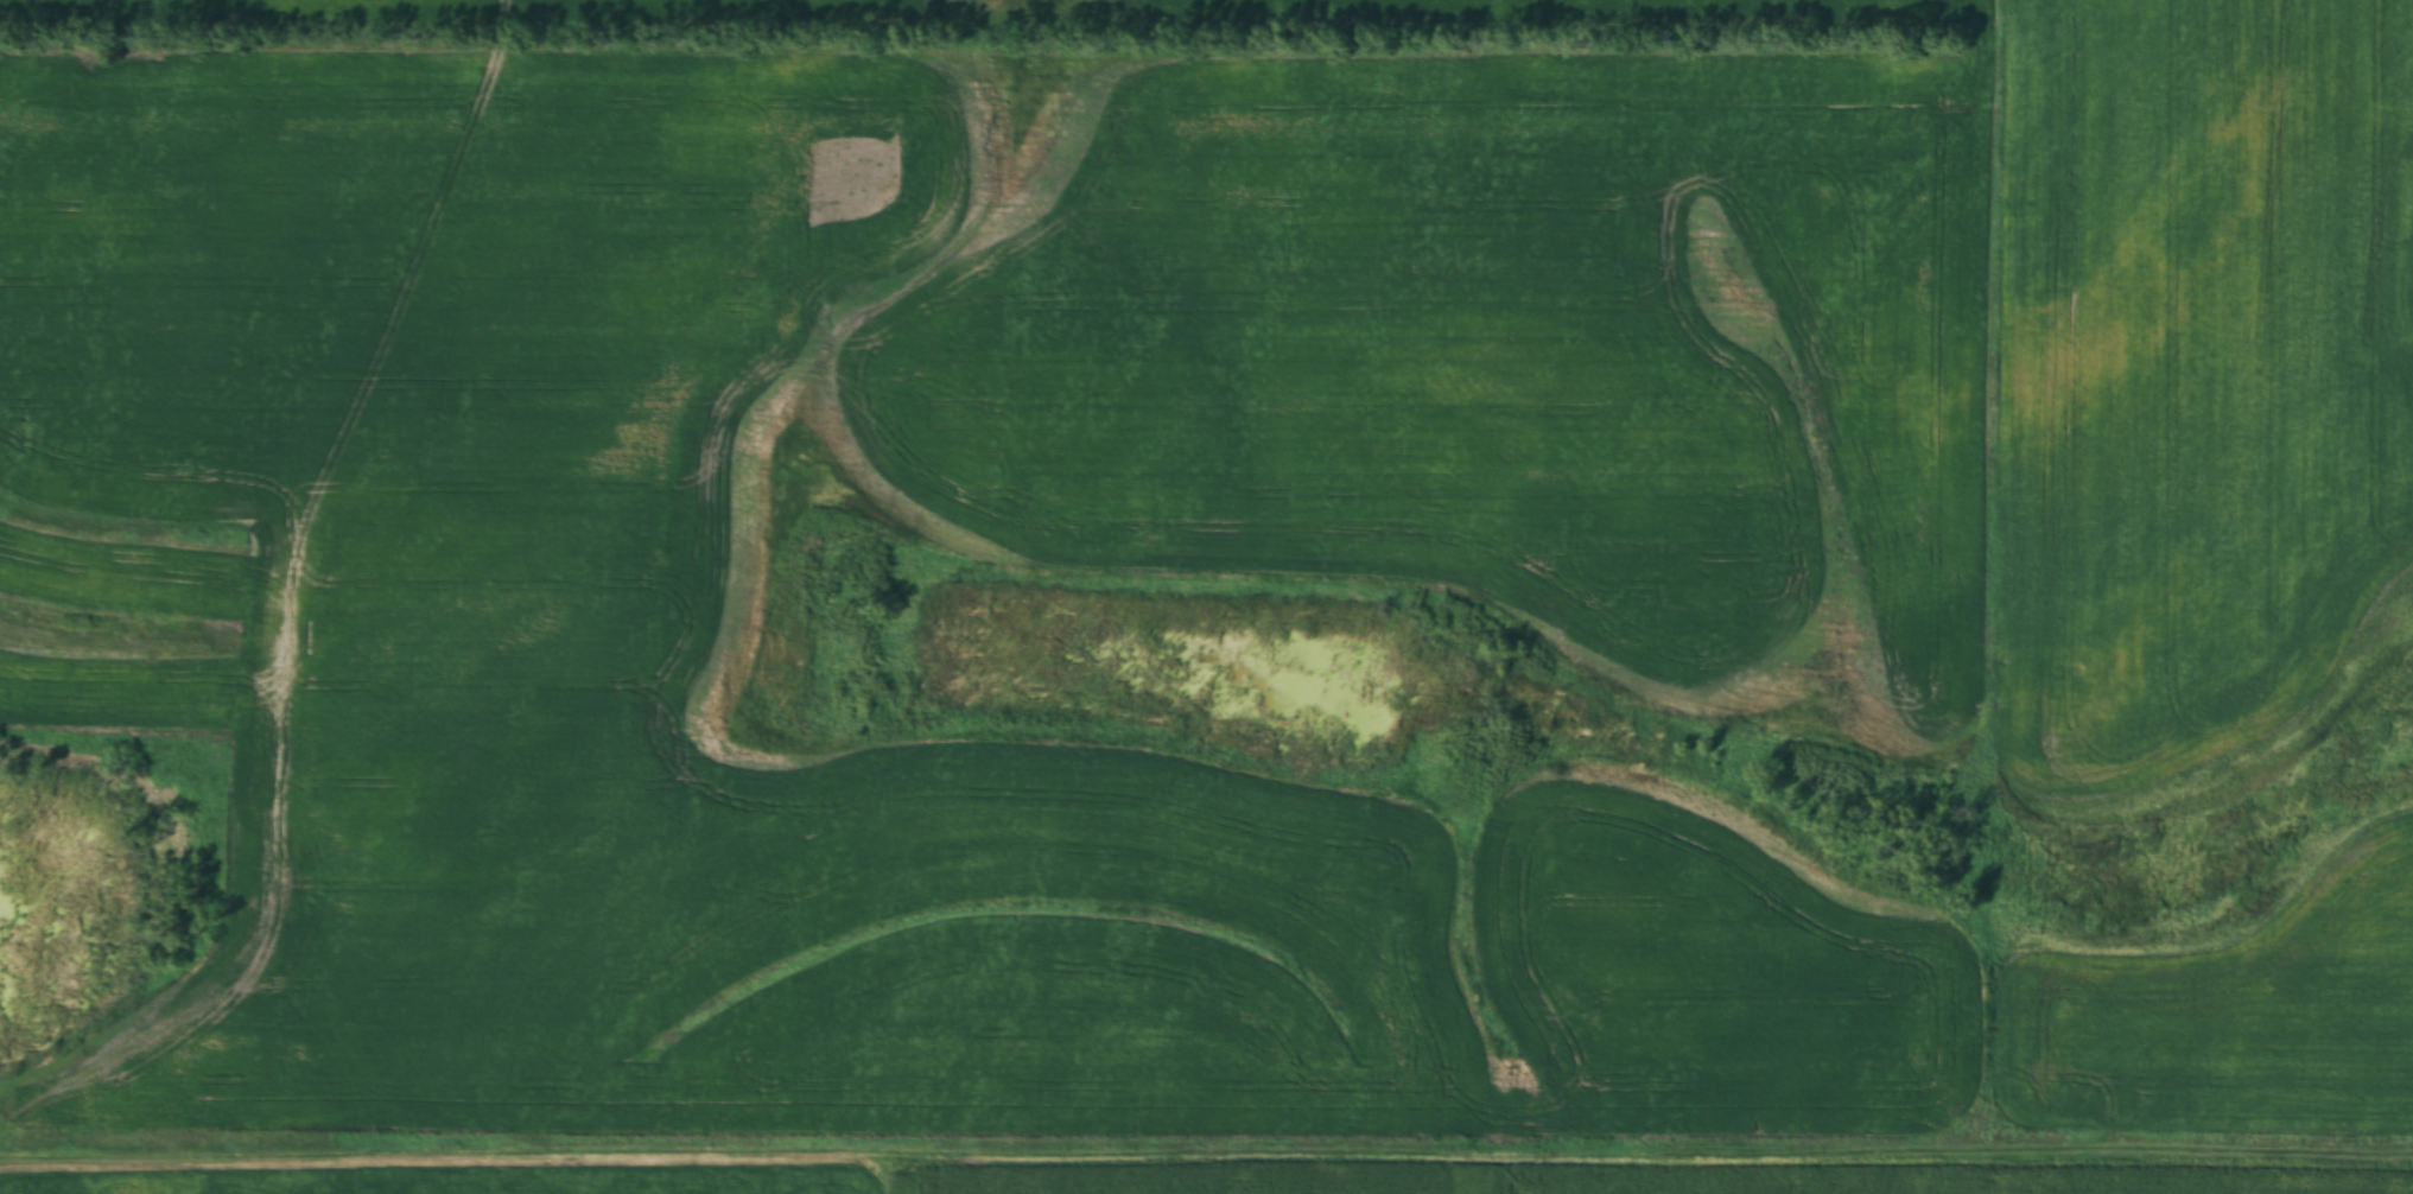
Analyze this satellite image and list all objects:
road: (1206, 1158)

